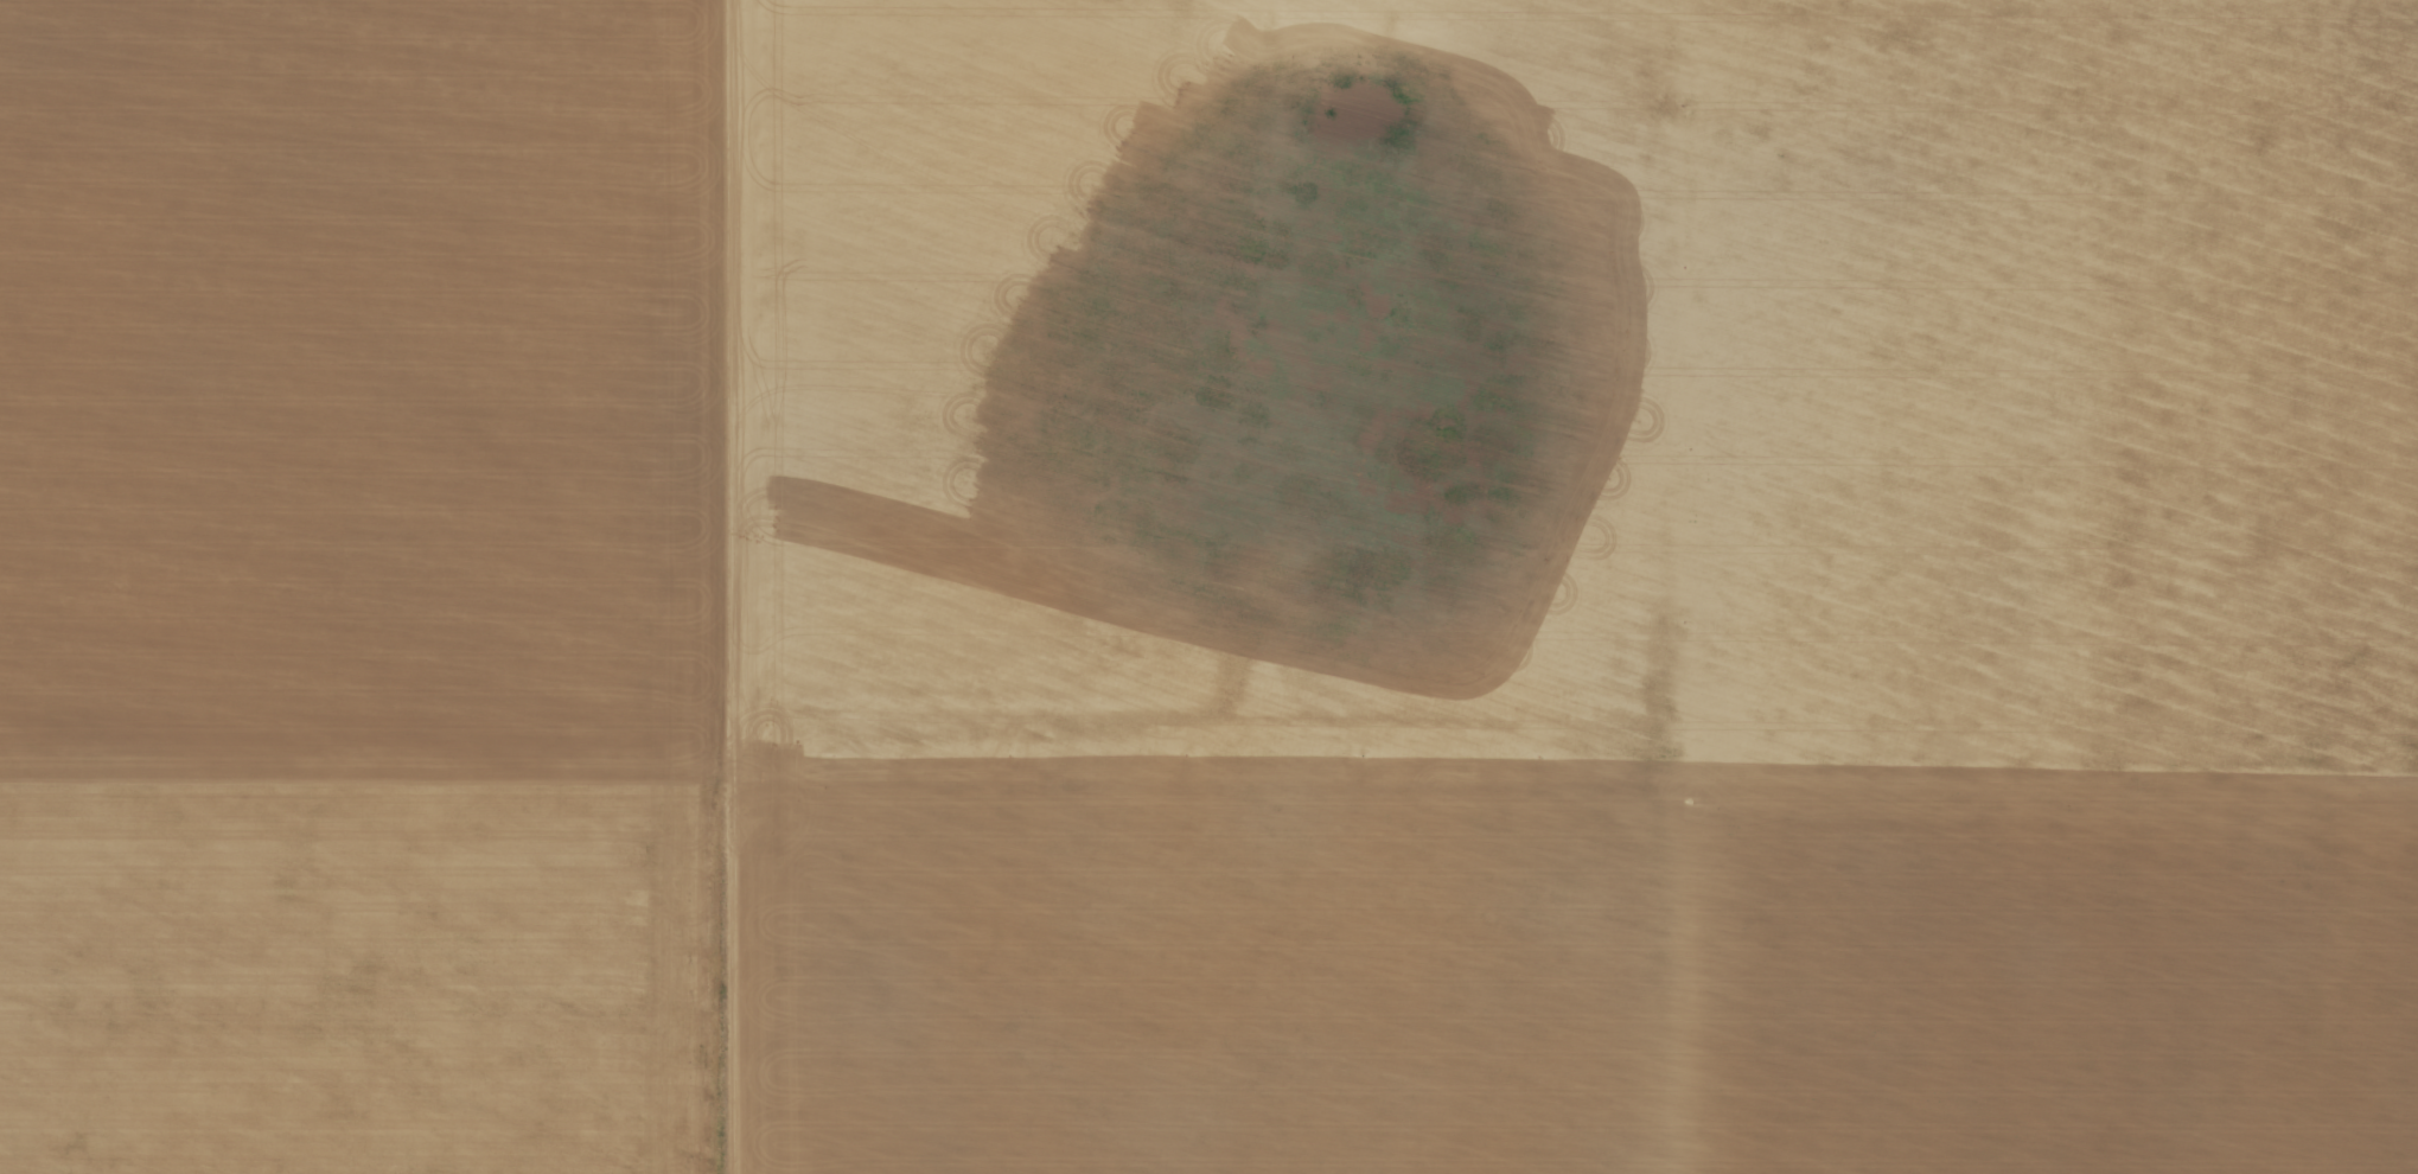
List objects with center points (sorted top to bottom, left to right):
road: (710, 587)

